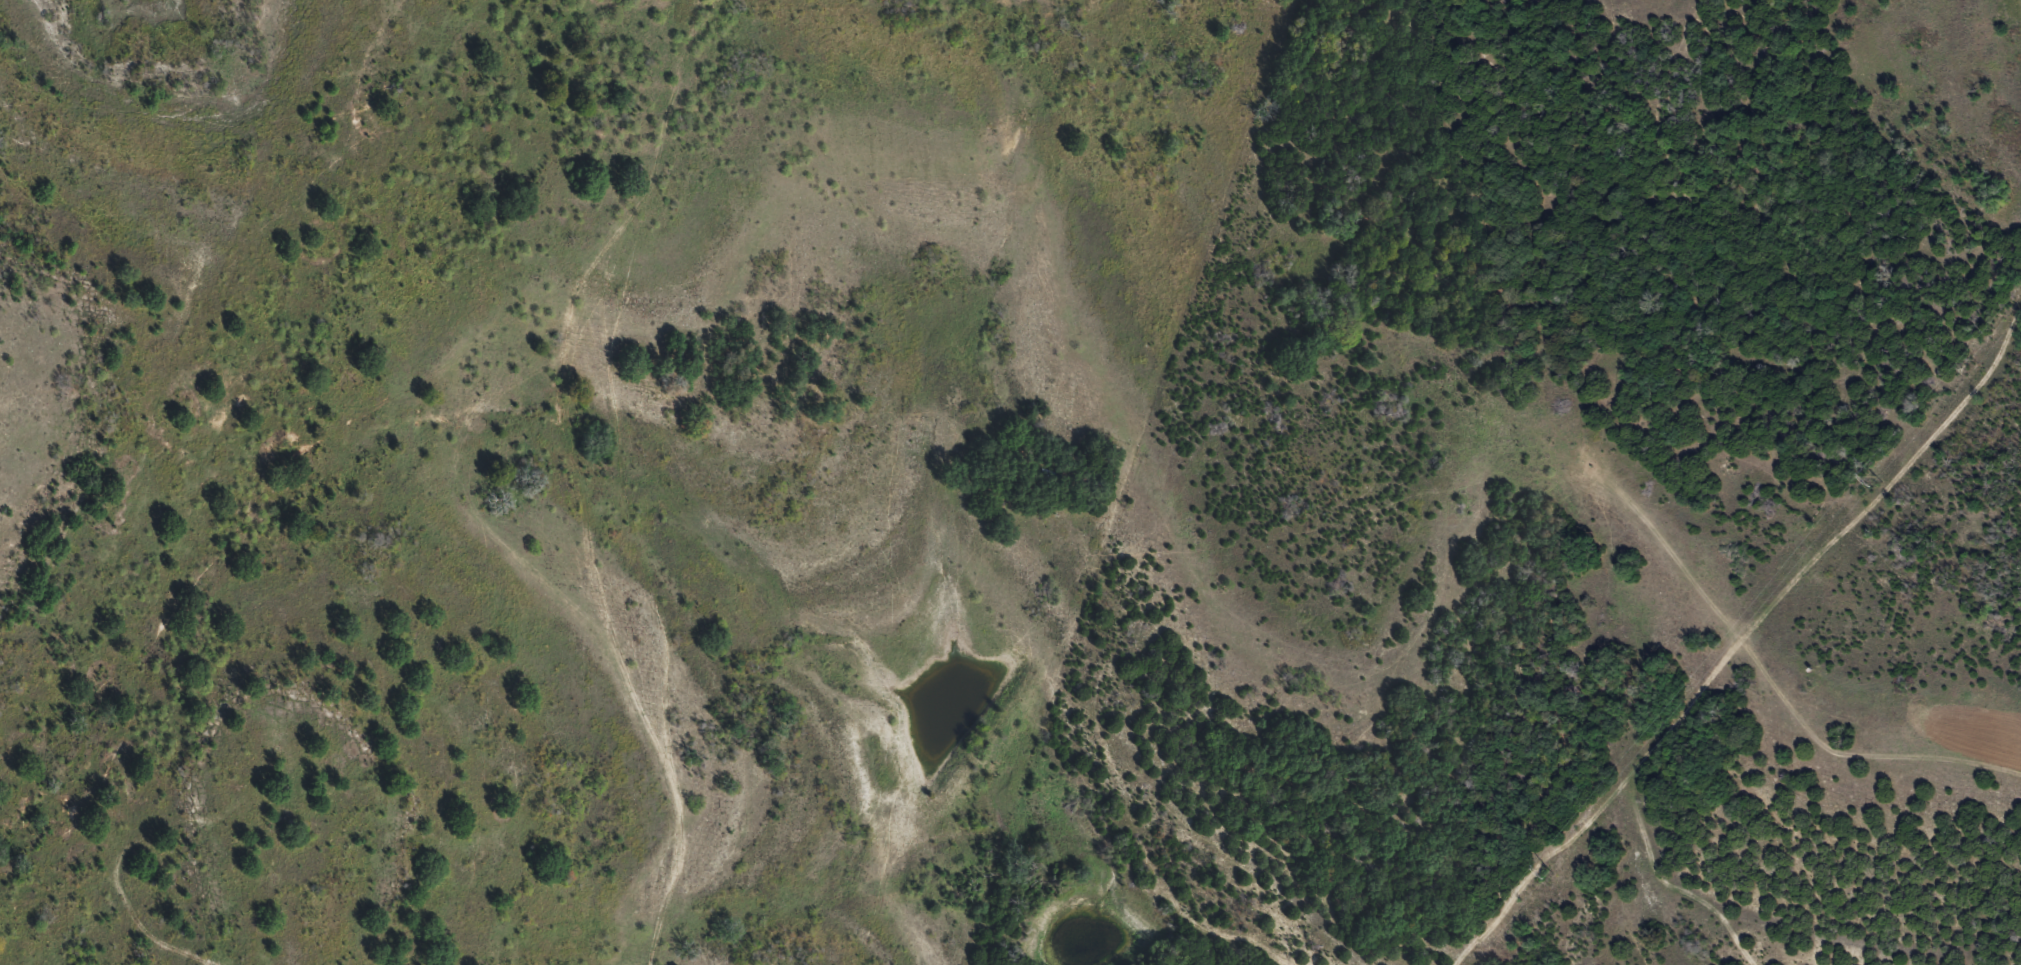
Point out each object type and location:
power tower: (1878, 478)
power tower: (1549, 870)
road: (622, 873)

